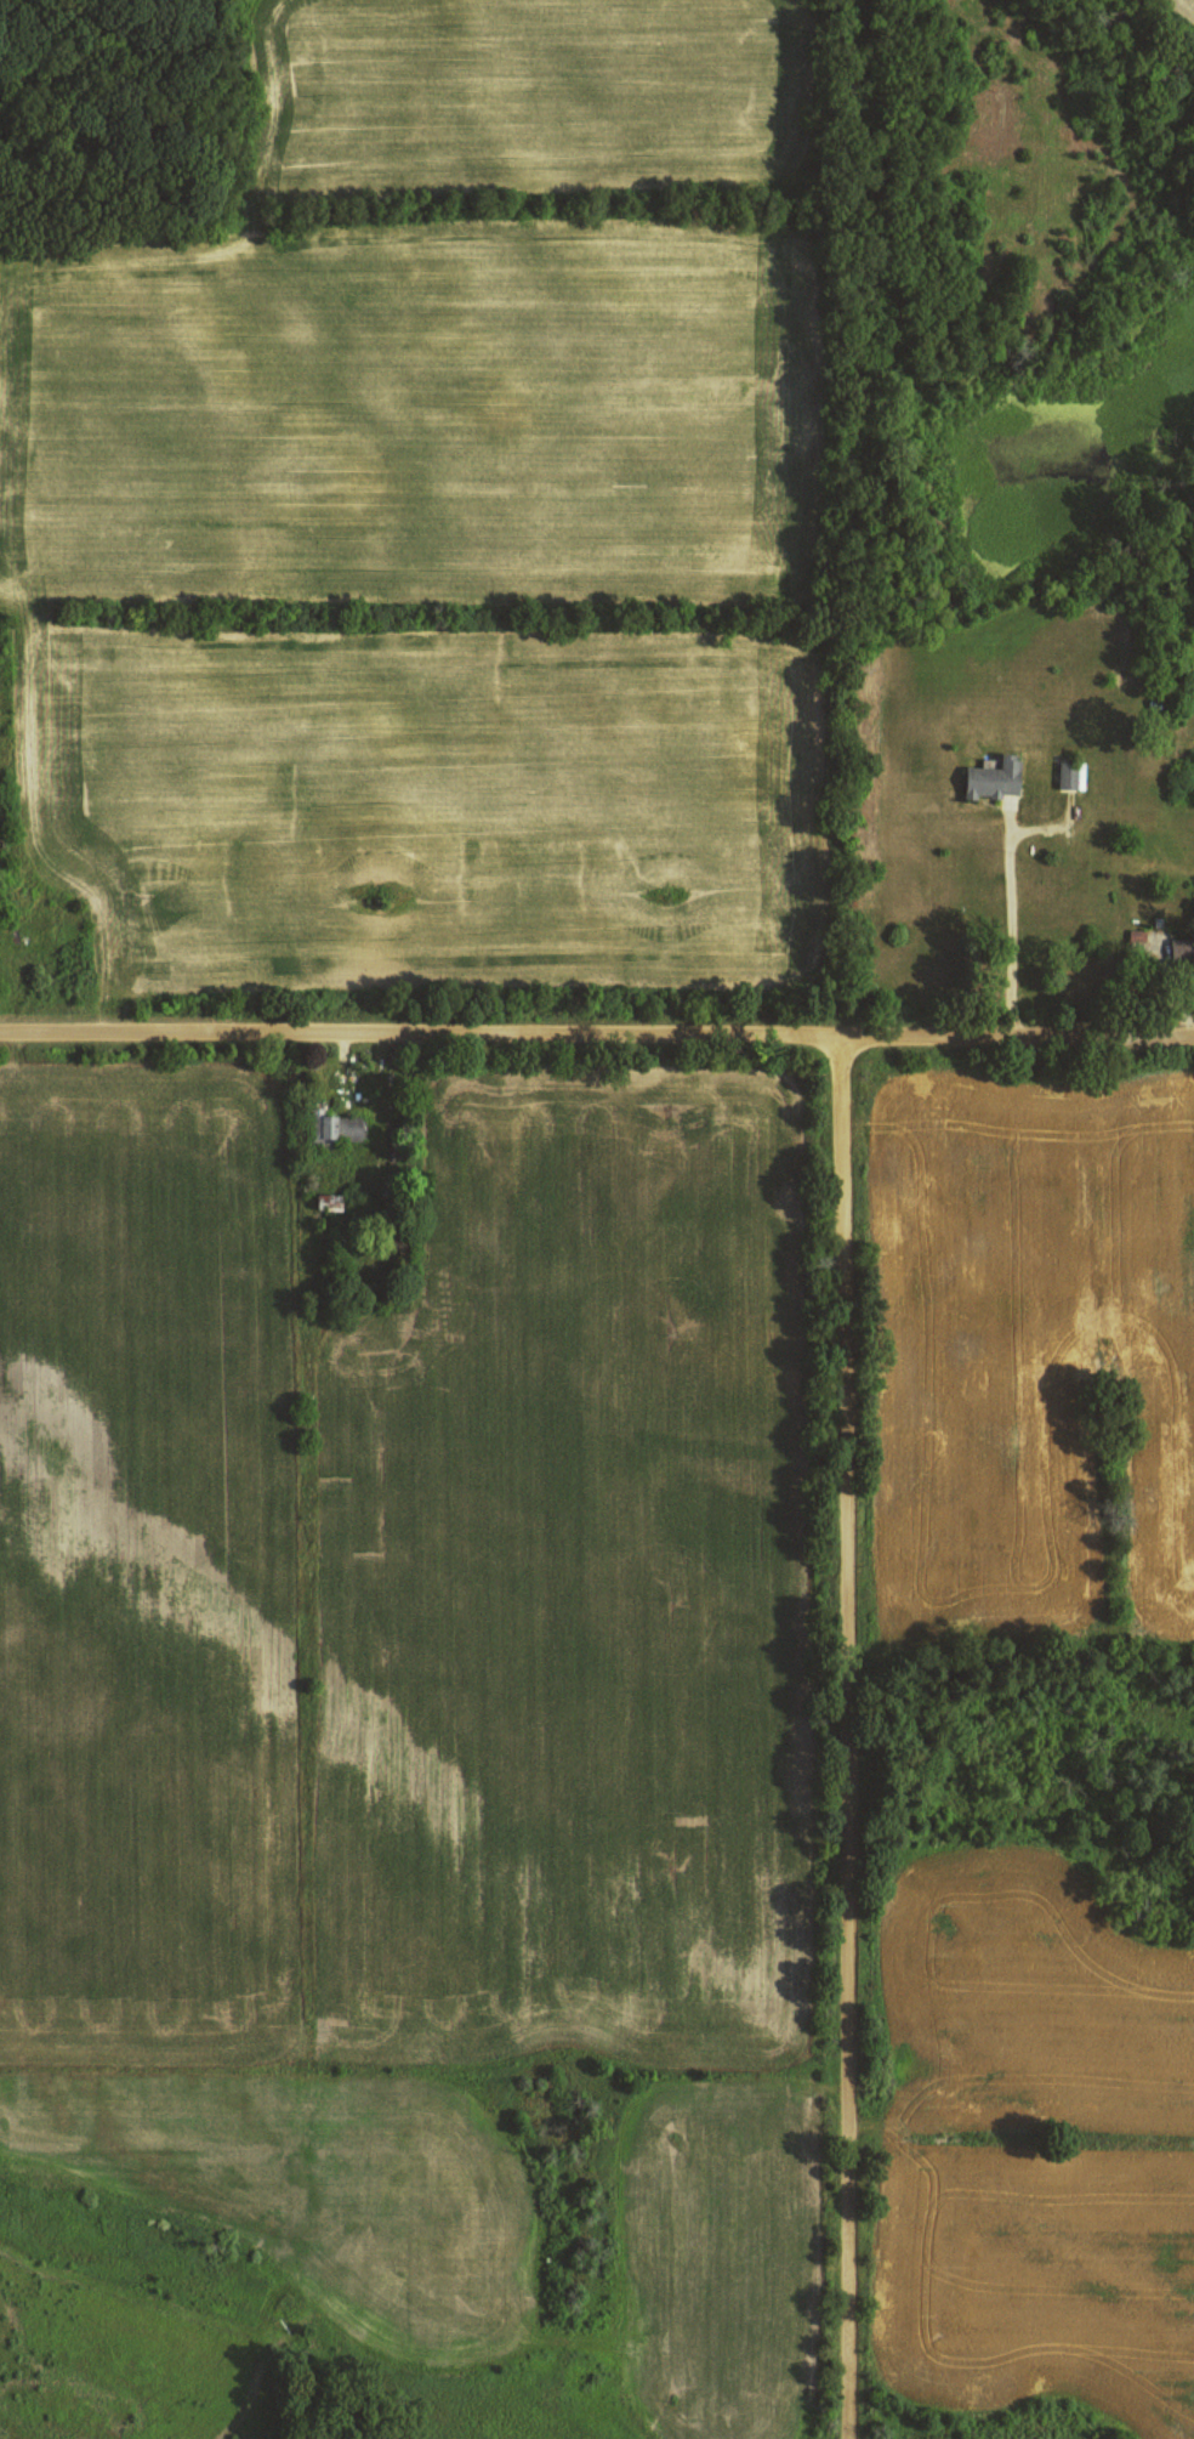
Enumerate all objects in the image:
building: (1069, 775)
building: (996, 778)
road: (596, 1042)
building: (337, 1127)
road: (847, 1740)

